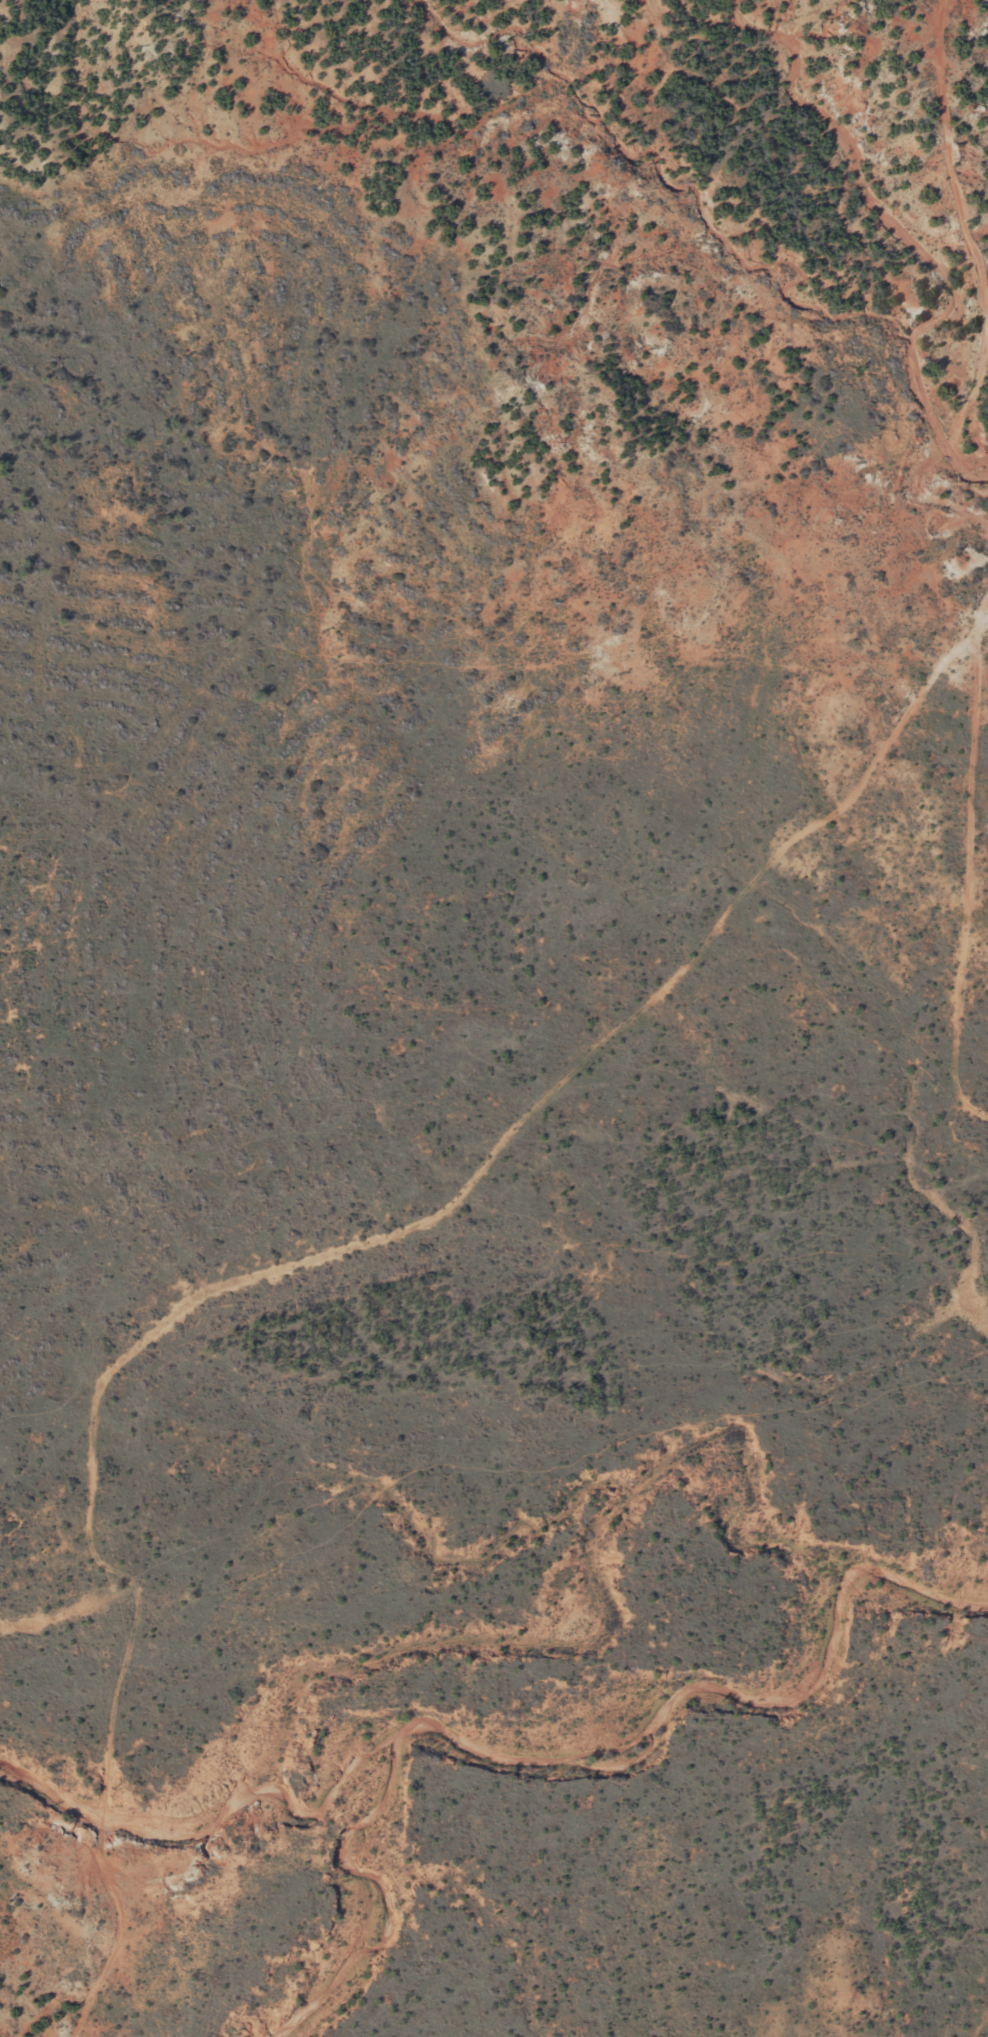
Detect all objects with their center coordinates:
road: (968, 2015)

